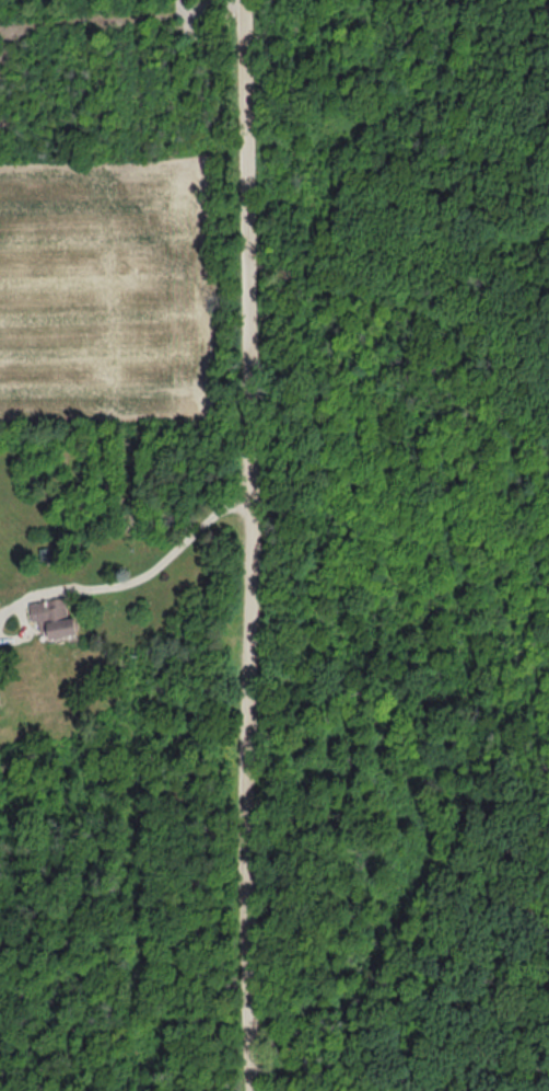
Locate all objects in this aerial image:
road: (250, 545)
road: (135, 582)
building: (54, 620)
road: (24, 632)

